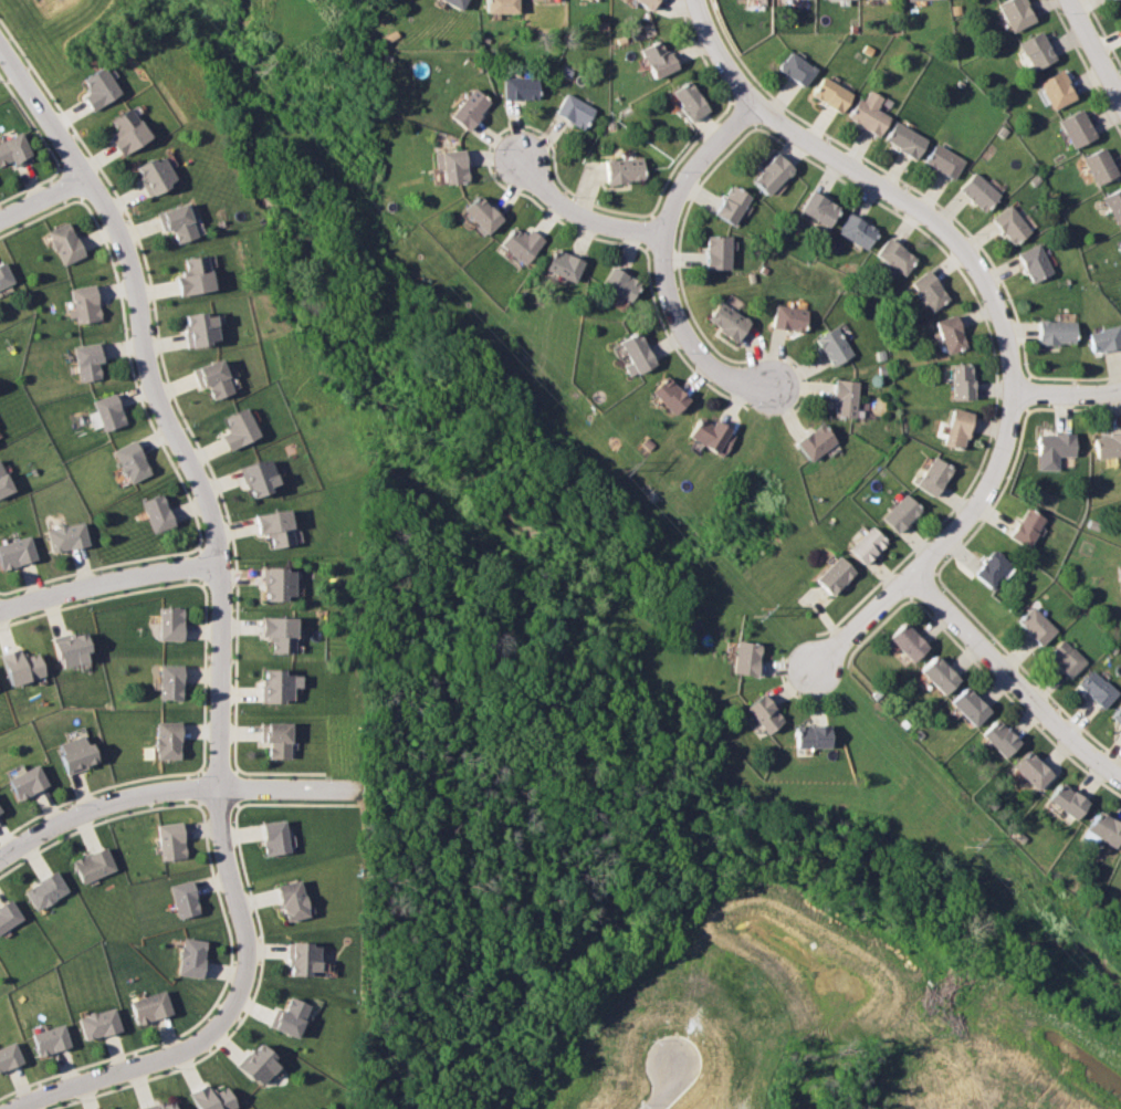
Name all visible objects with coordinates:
building: (907, 0)
building: (453, 2)
building: (646, 2)
building: (499, 6)
building: (1119, 11)
building: (1015, 13)
road: (1094, 49)
building: (1035, 50)
building: (656, 57)
power tower: (256, 66)
building: (794, 69)
road: (6, 71)
building: (518, 87)
building: (97, 88)
building: (1055, 88)
building: (829, 94)
building: (688, 100)
building: (468, 108)
building: (573, 111)
building: (867, 113)
building: (1076, 127)
building: (125, 130)
building: (903, 139)
building: (13, 149)
building: (942, 160)
building: (1098, 165)
building: (622, 169)
building: (769, 174)
building: (151, 175)
building: (976, 191)
road: (43, 202)
building: (1113, 203)
building: (729, 205)
building: (817, 208)
building: (479, 213)
road: (585, 218)
building: (175, 222)
building: (1008, 223)
building: (855, 230)
building: (63, 242)
building: (520, 243)
building: (715, 251)
building: (892, 255)
road: (668, 261)
building: (1033, 262)
building: (560, 264)
building: (3, 275)
building: (192, 275)
building: (618, 283)
building: (926, 290)
road: (997, 303)
building: (82, 304)
building: (787, 317)
building: (726, 321)
building: (197, 328)
building: (1056, 332)
building: (949, 333)
building: (1104, 338)
building: (831, 346)
building: (635, 354)
building: (87, 359)
building: (211, 378)
building: (960, 380)
road: (1068, 391)
building: (667, 395)
building: (842, 398)
building: (107, 411)
building: (237, 428)
building: (955, 428)
building: (711, 436)
building: (814, 441)
building: (1054, 443)
building: (1108, 444)
building: (129, 461)
building: (252, 462)
power tower: (622, 465)
building: (931, 477)
building: (3, 483)
building: (156, 512)
building: (899, 512)
road: (219, 517)
building: (274, 526)
building: (1024, 526)
building: (66, 536)
building: (866, 544)
building: (15, 552)
building: (991, 568)
road: (111, 575)
building: (834, 575)
building: (277, 583)
park: (579, 610)
building: (170, 622)
building: (1035, 625)
building: (280, 632)
building: (905, 641)
building: (71, 648)
building: (1065, 657)
building: (744, 658)
building: (21, 666)
building: (936, 674)
road: (1014, 680)
building: (169, 681)
building: (279, 684)
building: (1096, 688)
building: (967, 705)
building: (762, 713)
building: (1117, 714)
building: (809, 735)
building: (997, 737)
building: (167, 739)
building: (279, 740)
building: (76, 753)
building: (1029, 770)
road: (165, 786)
building: (1065, 799)
building: (1102, 828)
building: (273, 836)
building: (170, 840)
power tower: (970, 840)
building: (93, 864)
building: (44, 890)
building: (182, 898)
building: (290, 899)
building: (8, 914)
building: (190, 956)
building: (302, 958)
building: (149, 1006)
building: (290, 1017)
building: (98, 1023)
building: (50, 1039)
building: (9, 1056)
building: (256, 1064)
road: (111, 1070)
road: (660, 1085)
building: (211, 1098)
building: (159, 1106)

